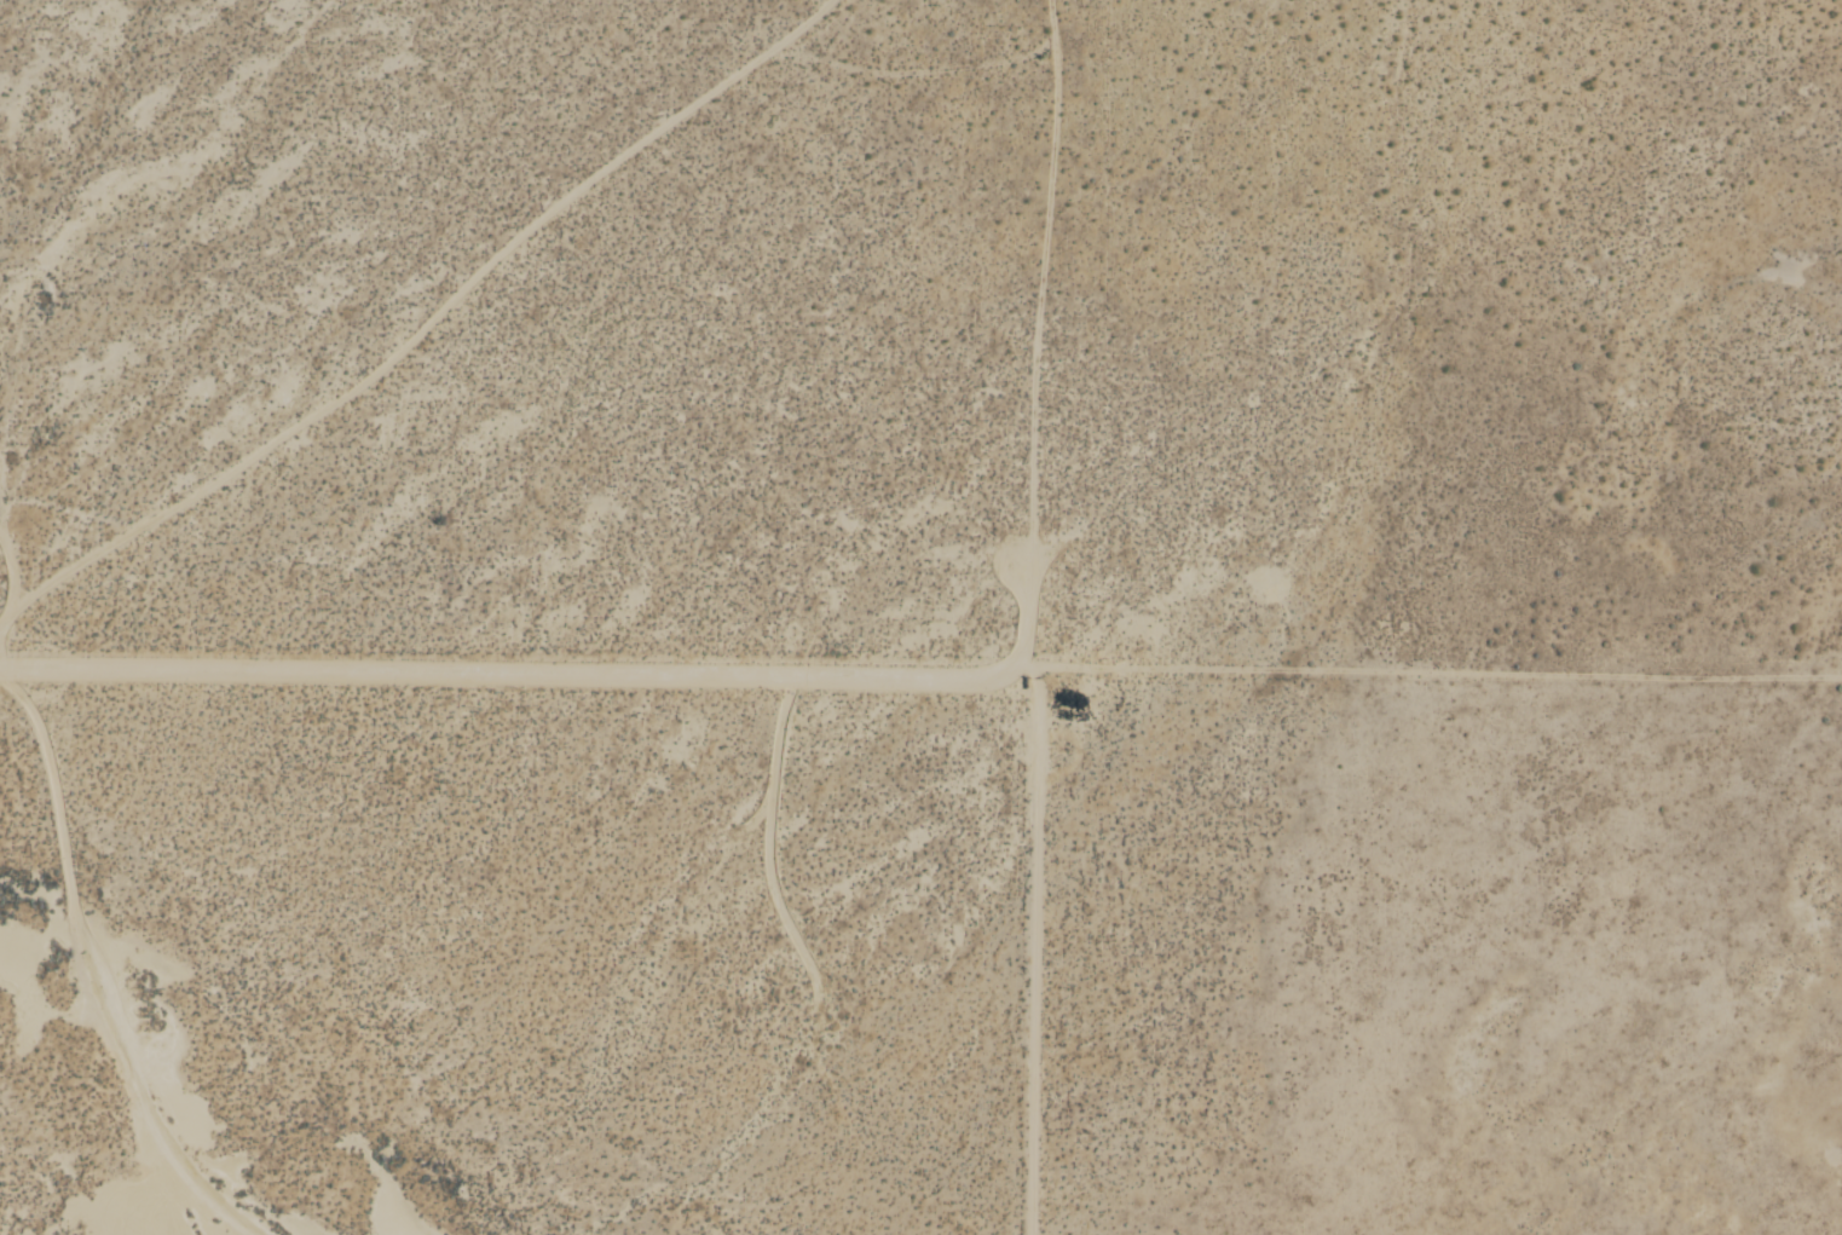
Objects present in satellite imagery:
road: (513, 670)
road: (92, 975)

